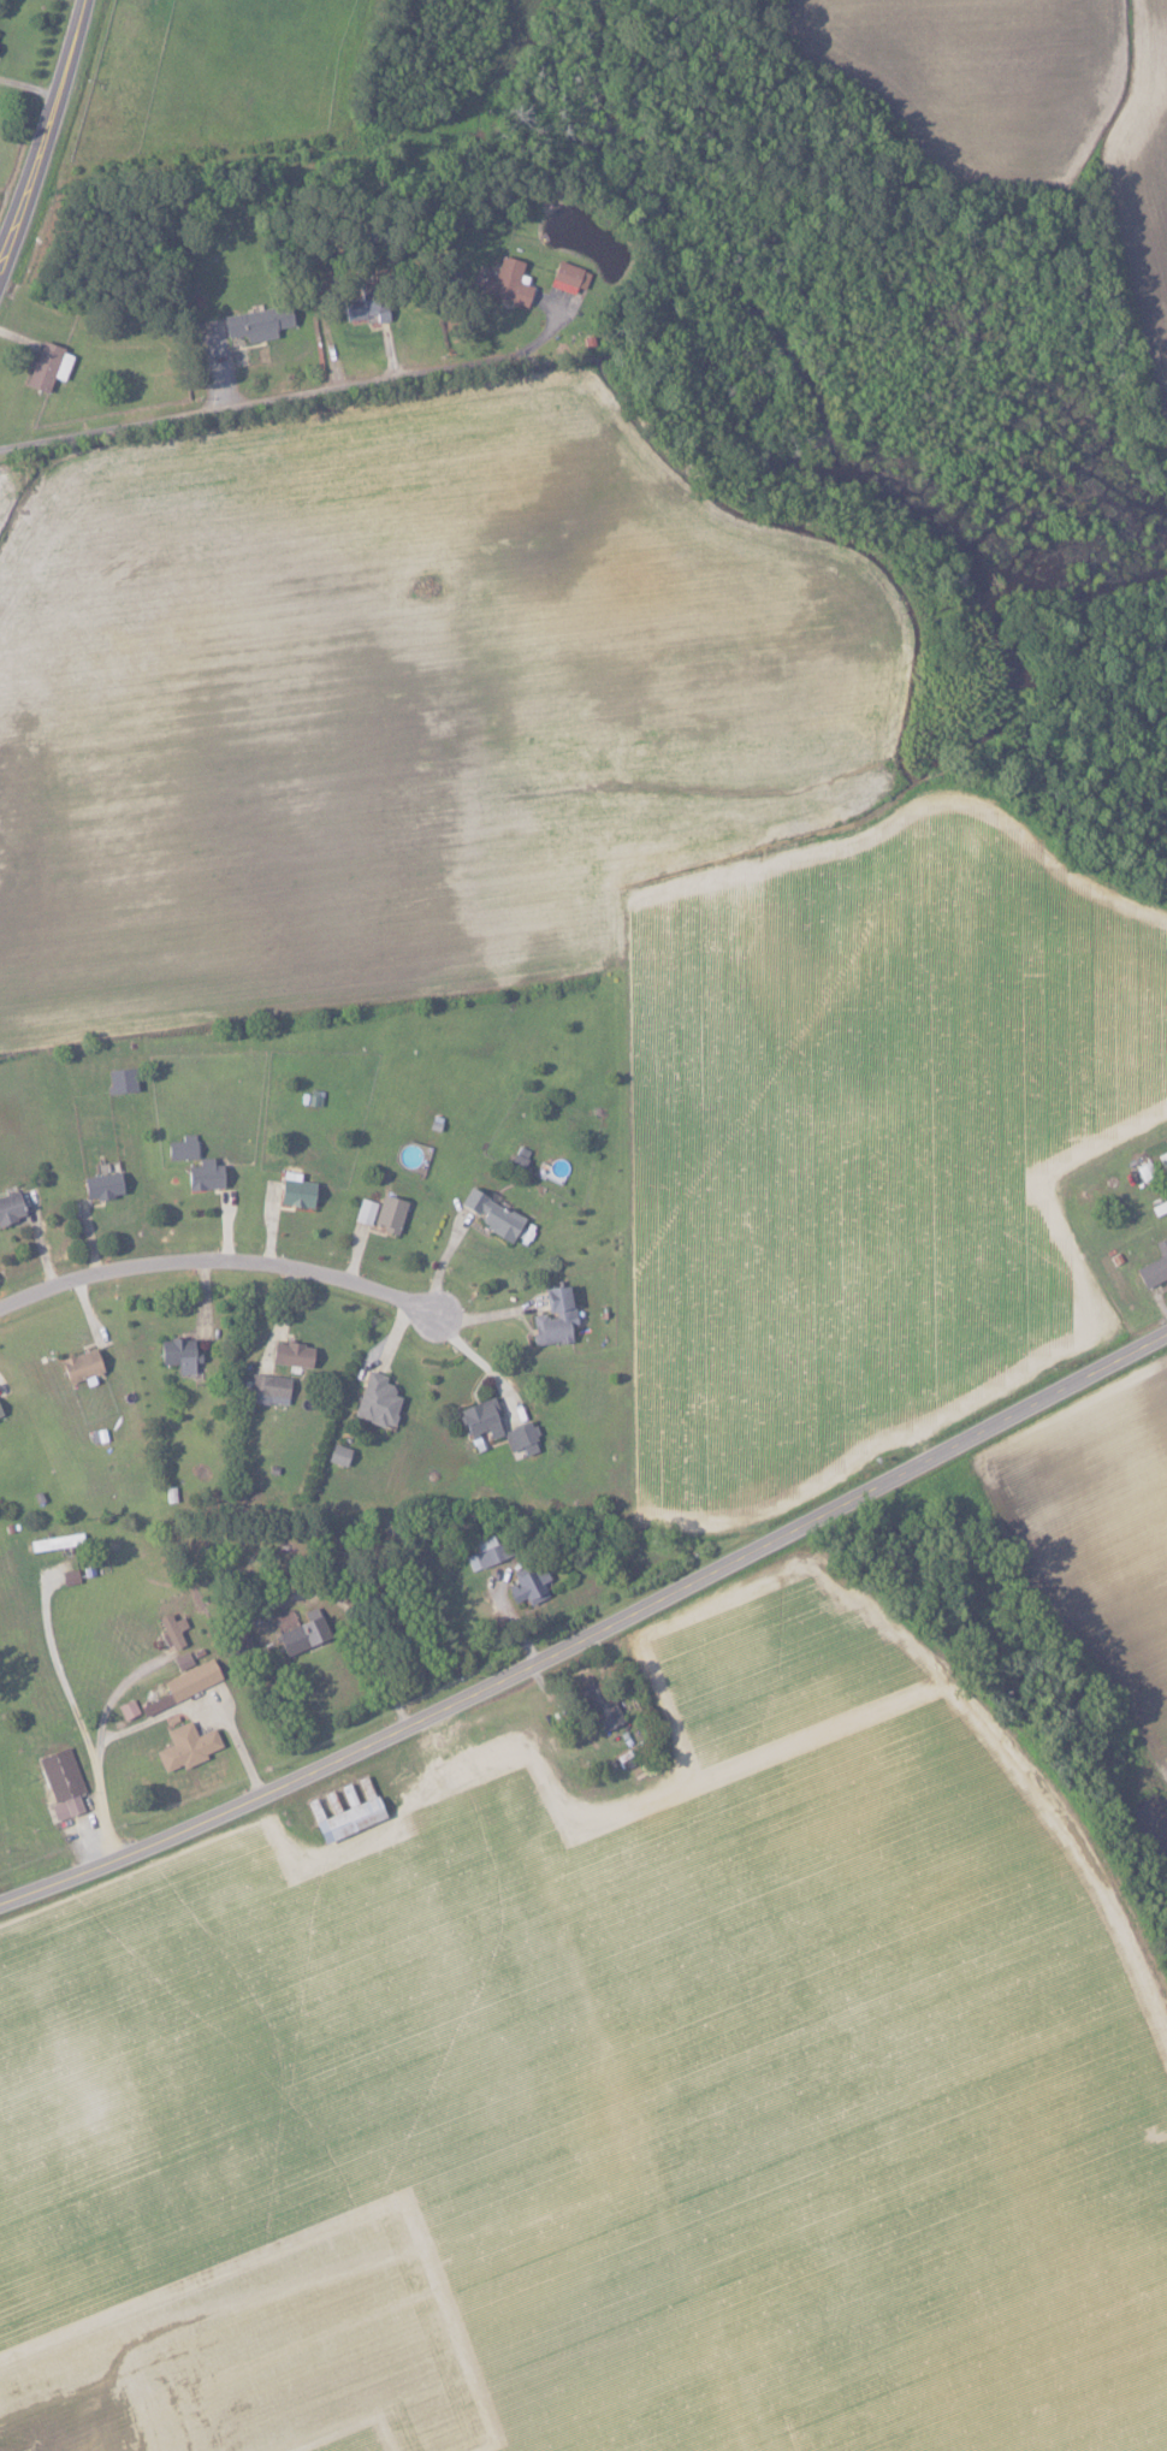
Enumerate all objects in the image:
road: (51, 137)
building: (565, 277)
building: (504, 283)
building: (363, 308)
building: (255, 321)
building: (45, 365)
road: (290, 404)
building: (118, 1079)
building: (179, 1147)
building: (202, 1174)
building: (99, 1184)
building: (294, 1192)
building: (11, 1207)
building: (362, 1210)
building: (386, 1213)
building: (490, 1214)
road: (221, 1260)
building: (1153, 1265)
building: (551, 1316)
building: (176, 1354)
building: (288, 1354)
building: (77, 1364)
building: (267, 1385)
building: (374, 1401)
building: (0, 1414)
building: (478, 1419)
building: (521, 1439)
building: (337, 1454)
building: (482, 1553)
building: (526, 1585)
building: (171, 1629)
building: (296, 1630)
road: (590, 1633)
building: (180, 1662)
building: (189, 1680)
road: (106, 1697)
road: (205, 1700)
building: (153, 1704)
building: (597, 1705)
road: (78, 1716)
building: (183, 1746)
building: (60, 1782)
building: (343, 1819)

